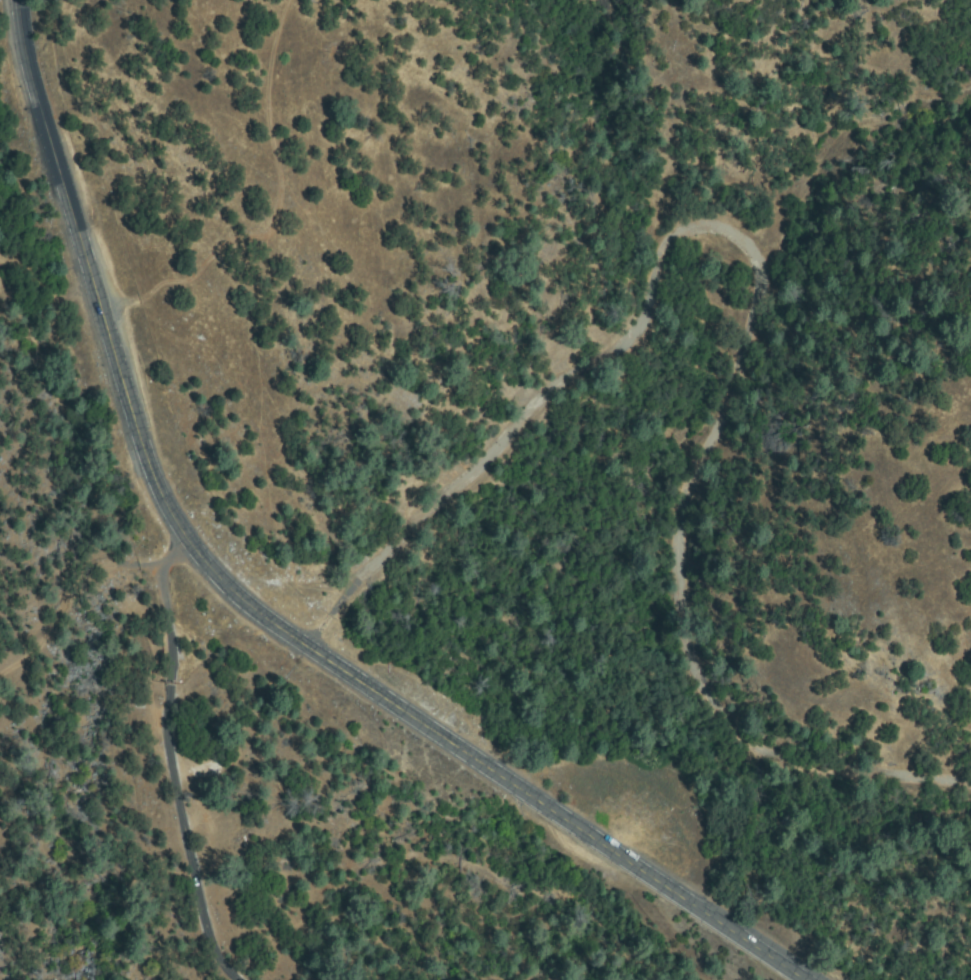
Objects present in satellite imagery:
road: (251, 608)
road: (170, 760)

